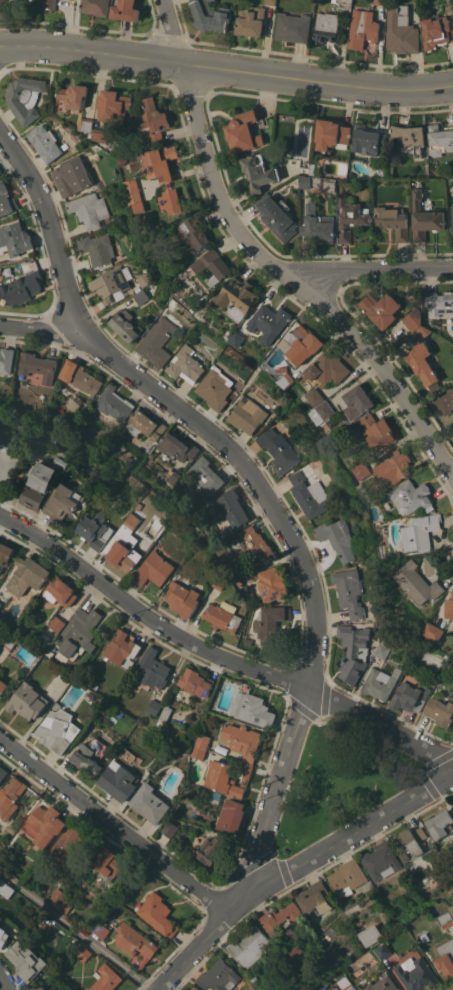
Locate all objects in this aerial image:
building: (1, 1)
building: (343, 1)
building: (379, 1)
building: (270, 2)
building: (50, 4)
building: (96, 6)
building: (126, 10)
building: (210, 16)
building: (250, 20)
building: (293, 27)
building: (326, 27)
building: (363, 28)
building: (401, 29)
road: (170, 31)
building: (436, 31)
road: (226, 68)
building: (25, 97)
building: (72, 97)
building: (114, 105)
building: (153, 115)
building: (88, 124)
building: (244, 130)
building: (100, 134)
building: (331, 134)
building: (407, 137)
building: (152, 139)
building: (367, 139)
building: (440, 140)
building: (46, 142)
building: (65, 146)
building: (120, 154)
building: (160, 162)
building: (312, 169)
building: (381, 170)
building: (0, 171)
building: (259, 171)
building: (391, 171)
building: (72, 175)
building: (305, 180)
building: (136, 195)
building: (6, 199)
building: (173, 200)
building: (89, 209)
building: (452, 212)
building: (277, 215)
building: (351, 217)
building: (424, 217)
building: (393, 220)
building: (317, 224)
building: (452, 229)
building: (195, 233)
building: (13, 237)
building: (95, 248)
building: (211, 266)
road: (374, 268)
building: (144, 278)
road: (292, 281)
building: (109, 283)
building: (21, 287)
building: (140, 295)
building: (237, 297)
building: (439, 302)
building: (381, 308)
building: (269, 321)
building: (434, 322)
building: (125, 324)
building: (416, 324)
road: (44, 331)
building: (237, 338)
building: (156, 341)
building: (301, 343)
building: (6, 359)
building: (423, 363)
building: (185, 364)
building: (37, 365)
building: (282, 368)
building: (328, 368)
building: (79, 376)
building: (286, 379)
building: (214, 387)
building: (316, 396)
building: (357, 400)
building: (113, 402)
building: (444, 402)
building: (73, 403)
building: (323, 410)
building: (246, 414)
building: (144, 424)
building: (377, 430)
building: (176, 446)
building: (278, 449)
building: (61, 461)
building: (7, 462)
building: (29, 462)
building: (394, 467)
building: (362, 470)
building: (174, 474)
building: (206, 474)
road: (252, 480)
building: (39, 484)
building: (364, 491)
building: (309, 494)
building: (412, 495)
building: (63, 501)
building: (232, 506)
building: (96, 529)
building: (420, 531)
building: (226, 532)
building: (337, 537)
building: (127, 542)
building: (258, 543)
building: (5, 554)
building: (154, 568)
building: (251, 573)
building: (28, 574)
building: (219, 581)
building: (273, 583)
building: (418, 583)
building: (60, 591)
building: (348, 591)
building: (183, 598)
building: (0, 603)
building: (450, 607)
building: (223, 615)
building: (270, 621)
building: (57, 623)
building: (79, 631)
building: (434, 631)
building: (9, 640)
building: (248, 641)
building: (122, 649)
building: (381, 649)
building: (353, 651)
road: (217, 655)
building: (153, 668)
building: (195, 681)
building: (380, 682)
building: (3, 686)
building: (410, 696)
building: (26, 700)
building: (55, 705)
building: (154, 706)
building: (252, 709)
building: (439, 710)
building: (164, 714)
building: (58, 729)
building: (241, 739)
building: (199, 745)
building: (89, 755)
building: (3, 772)
building: (226, 778)
building: (118, 780)
park: (338, 782)
building: (11, 796)
building: (149, 802)
building: (232, 815)
building: (439, 823)
building: (44, 824)
road: (115, 827)
building: (170, 828)
building: (410, 839)
building: (69, 844)
building: (2, 845)
building: (211, 849)
road: (320, 853)
building: (403, 855)
building: (380, 860)
building: (108, 861)
building: (347, 877)
building: (5, 888)
building: (315, 898)
building: (61, 899)
building: (101, 903)
building: (451, 907)
building: (157, 913)
building: (385, 917)
building: (1, 918)
building: (279, 918)
building: (447, 918)
building: (100, 926)
road: (78, 930)
building: (371, 934)
building: (3, 936)
building: (425, 937)
building: (134, 941)
building: (248, 945)
building: (383, 950)
building: (83, 953)
building: (446, 958)
building: (27, 960)
road: (177, 967)
building: (337, 974)
building: (417, 974)
building: (217, 976)
building: (105, 978)
road: (3, 981)
building: (345, 982)
building: (381, 984)
building: (37, 988)
building: (195, 988)

